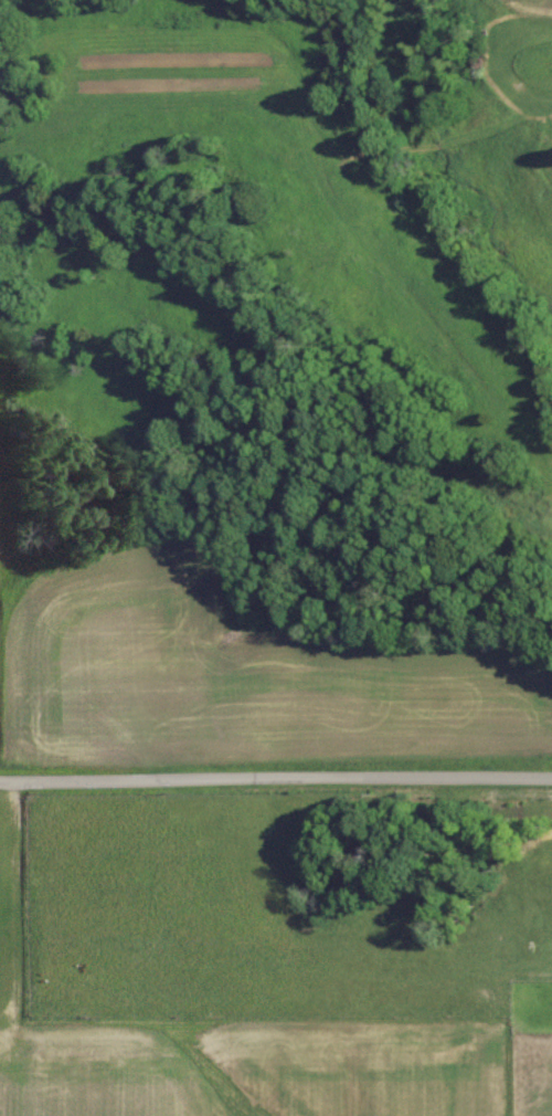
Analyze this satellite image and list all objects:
road: (276, 786)

